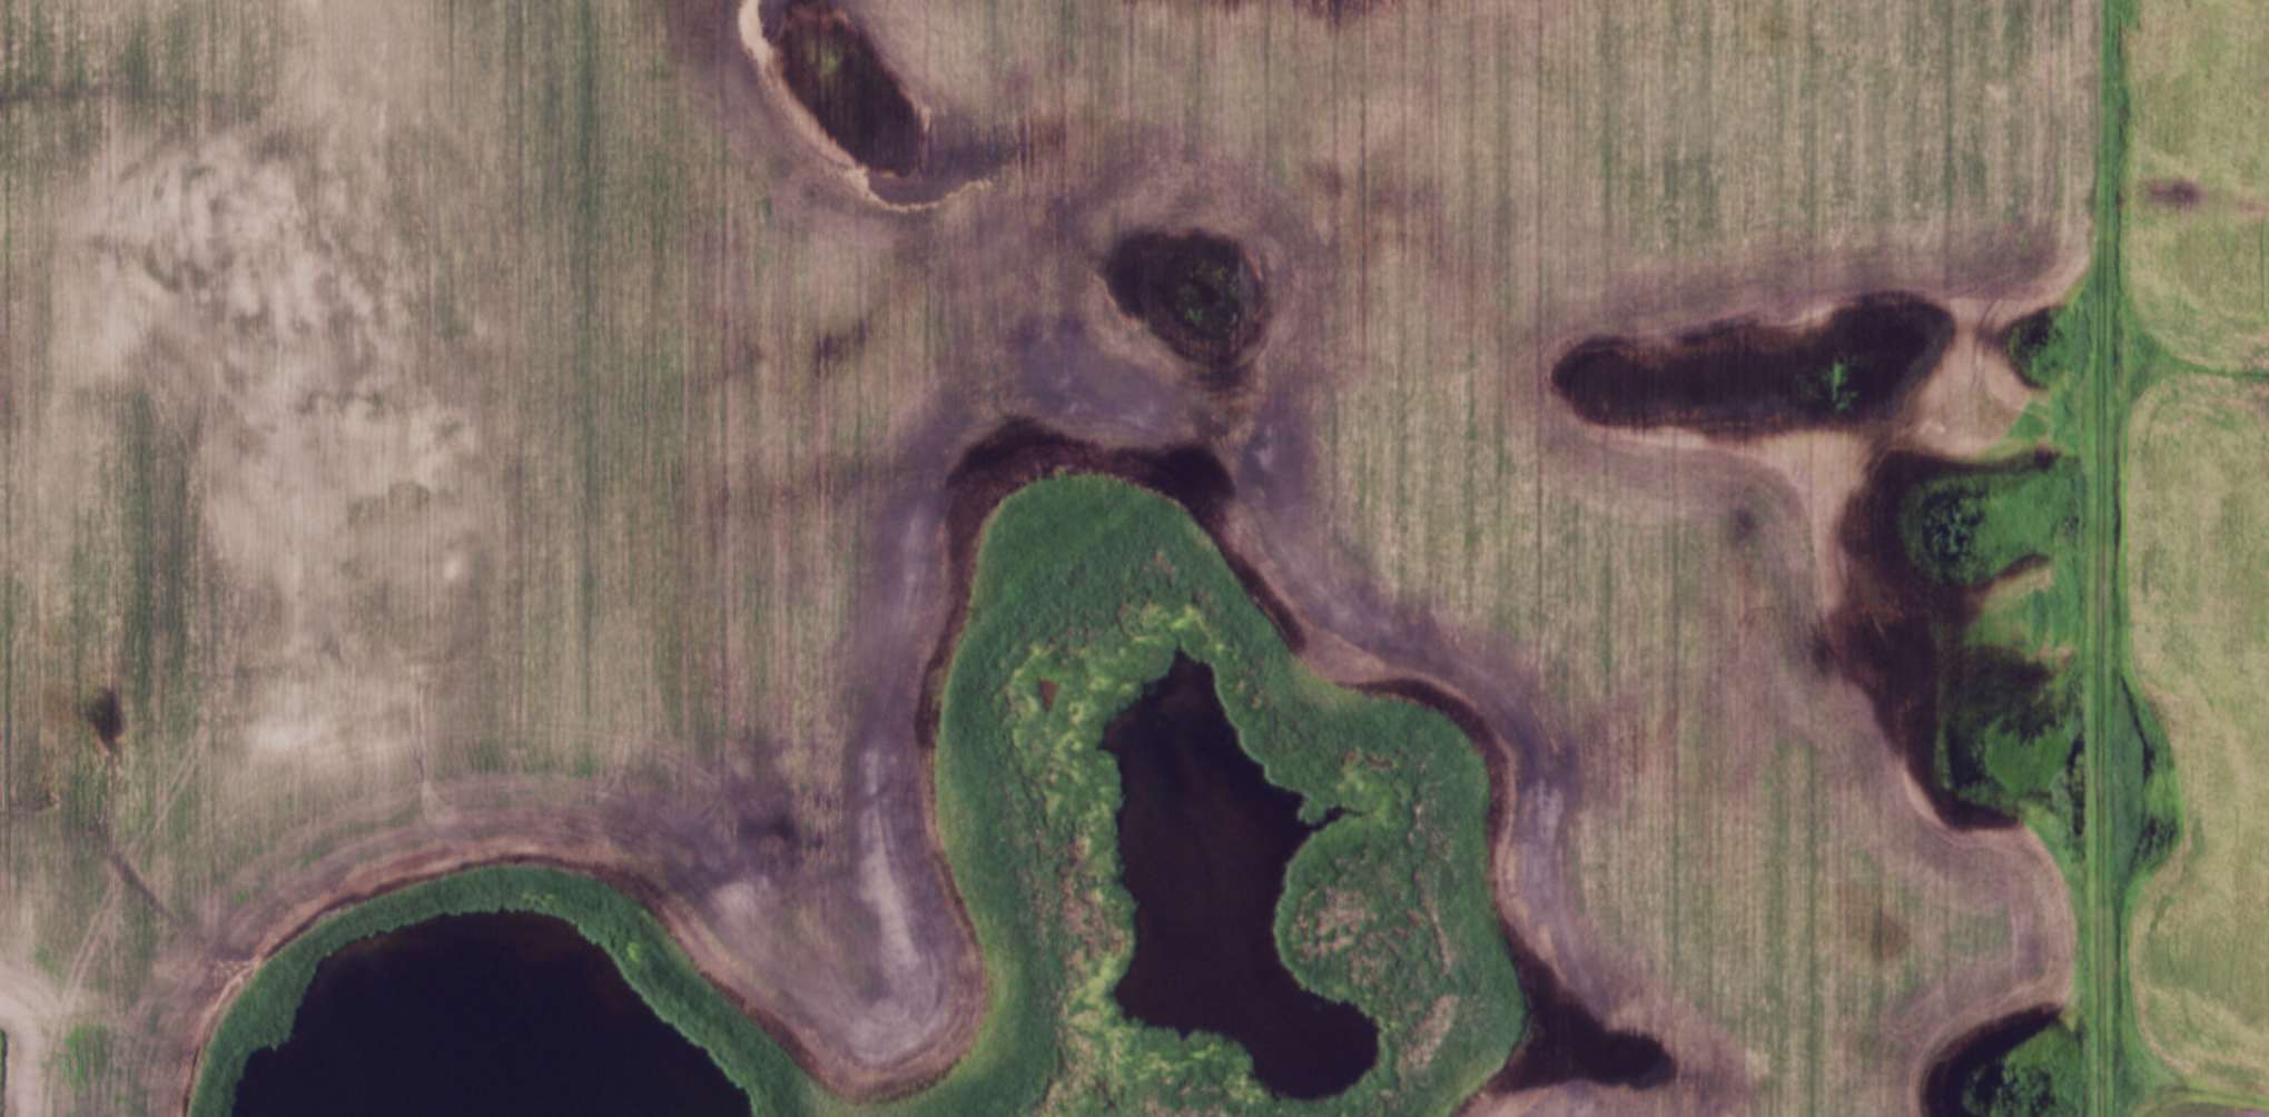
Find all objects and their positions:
road: (2104, 558)

